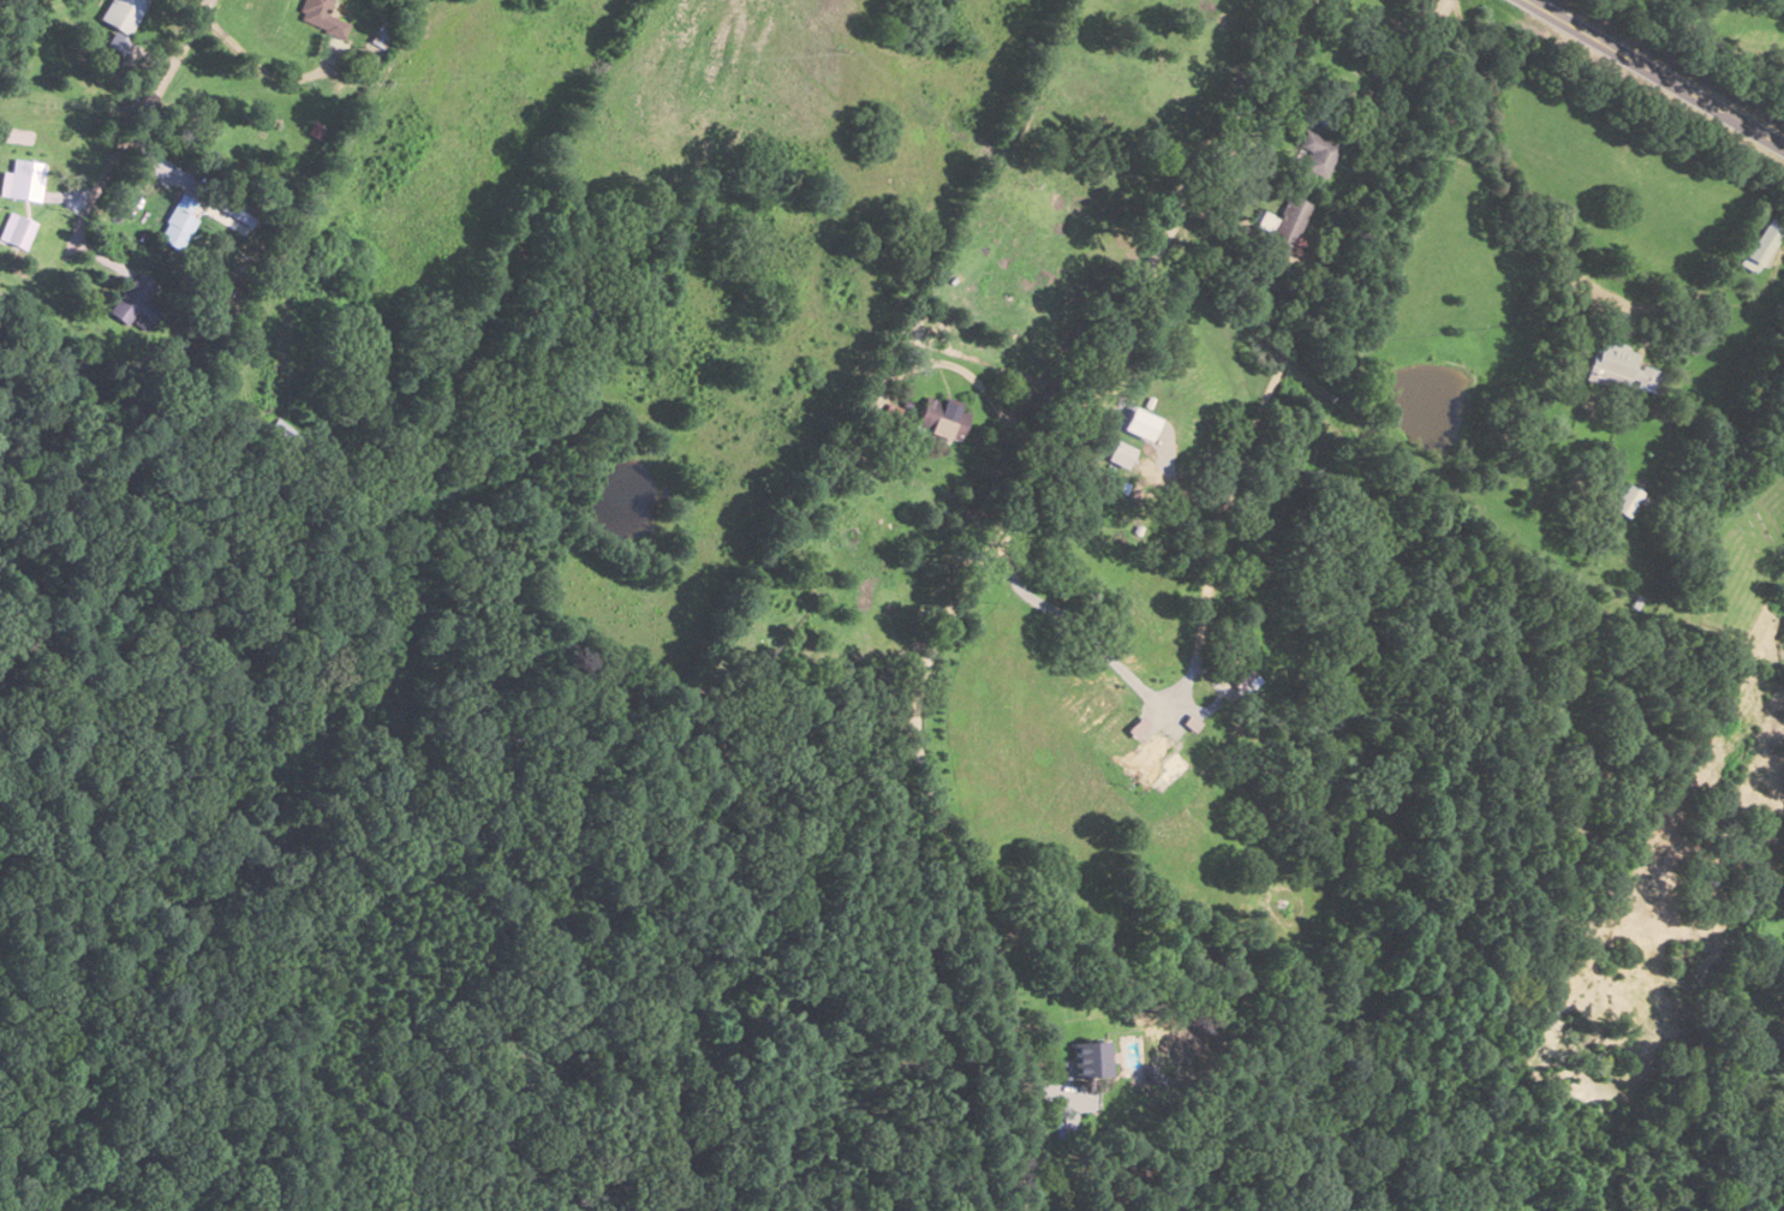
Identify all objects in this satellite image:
building: (124, 13)
building: (322, 17)
road: (168, 58)
road: (1652, 74)
building: (1317, 151)
building: (22, 179)
road: (968, 202)
building: (234, 209)
building: (175, 221)
building: (1288, 223)
building: (18, 231)
building: (1760, 244)
building: (129, 296)
road: (1303, 302)
building: (1622, 369)
building: (942, 417)
building: (1120, 453)
building: (1625, 499)
road: (969, 575)
building: (1783, 638)
building: (1255, 661)
building: (1090, 1058)

